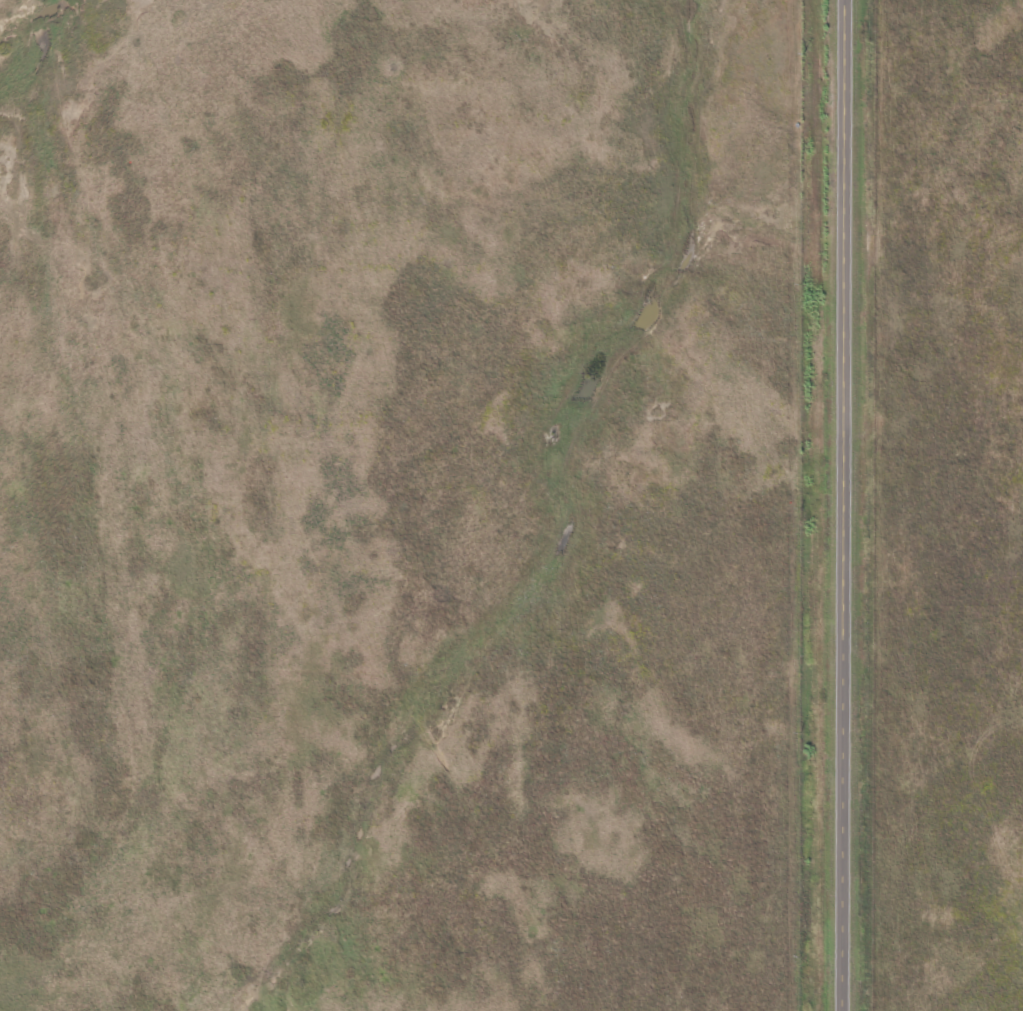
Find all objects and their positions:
road: (842, 505)

